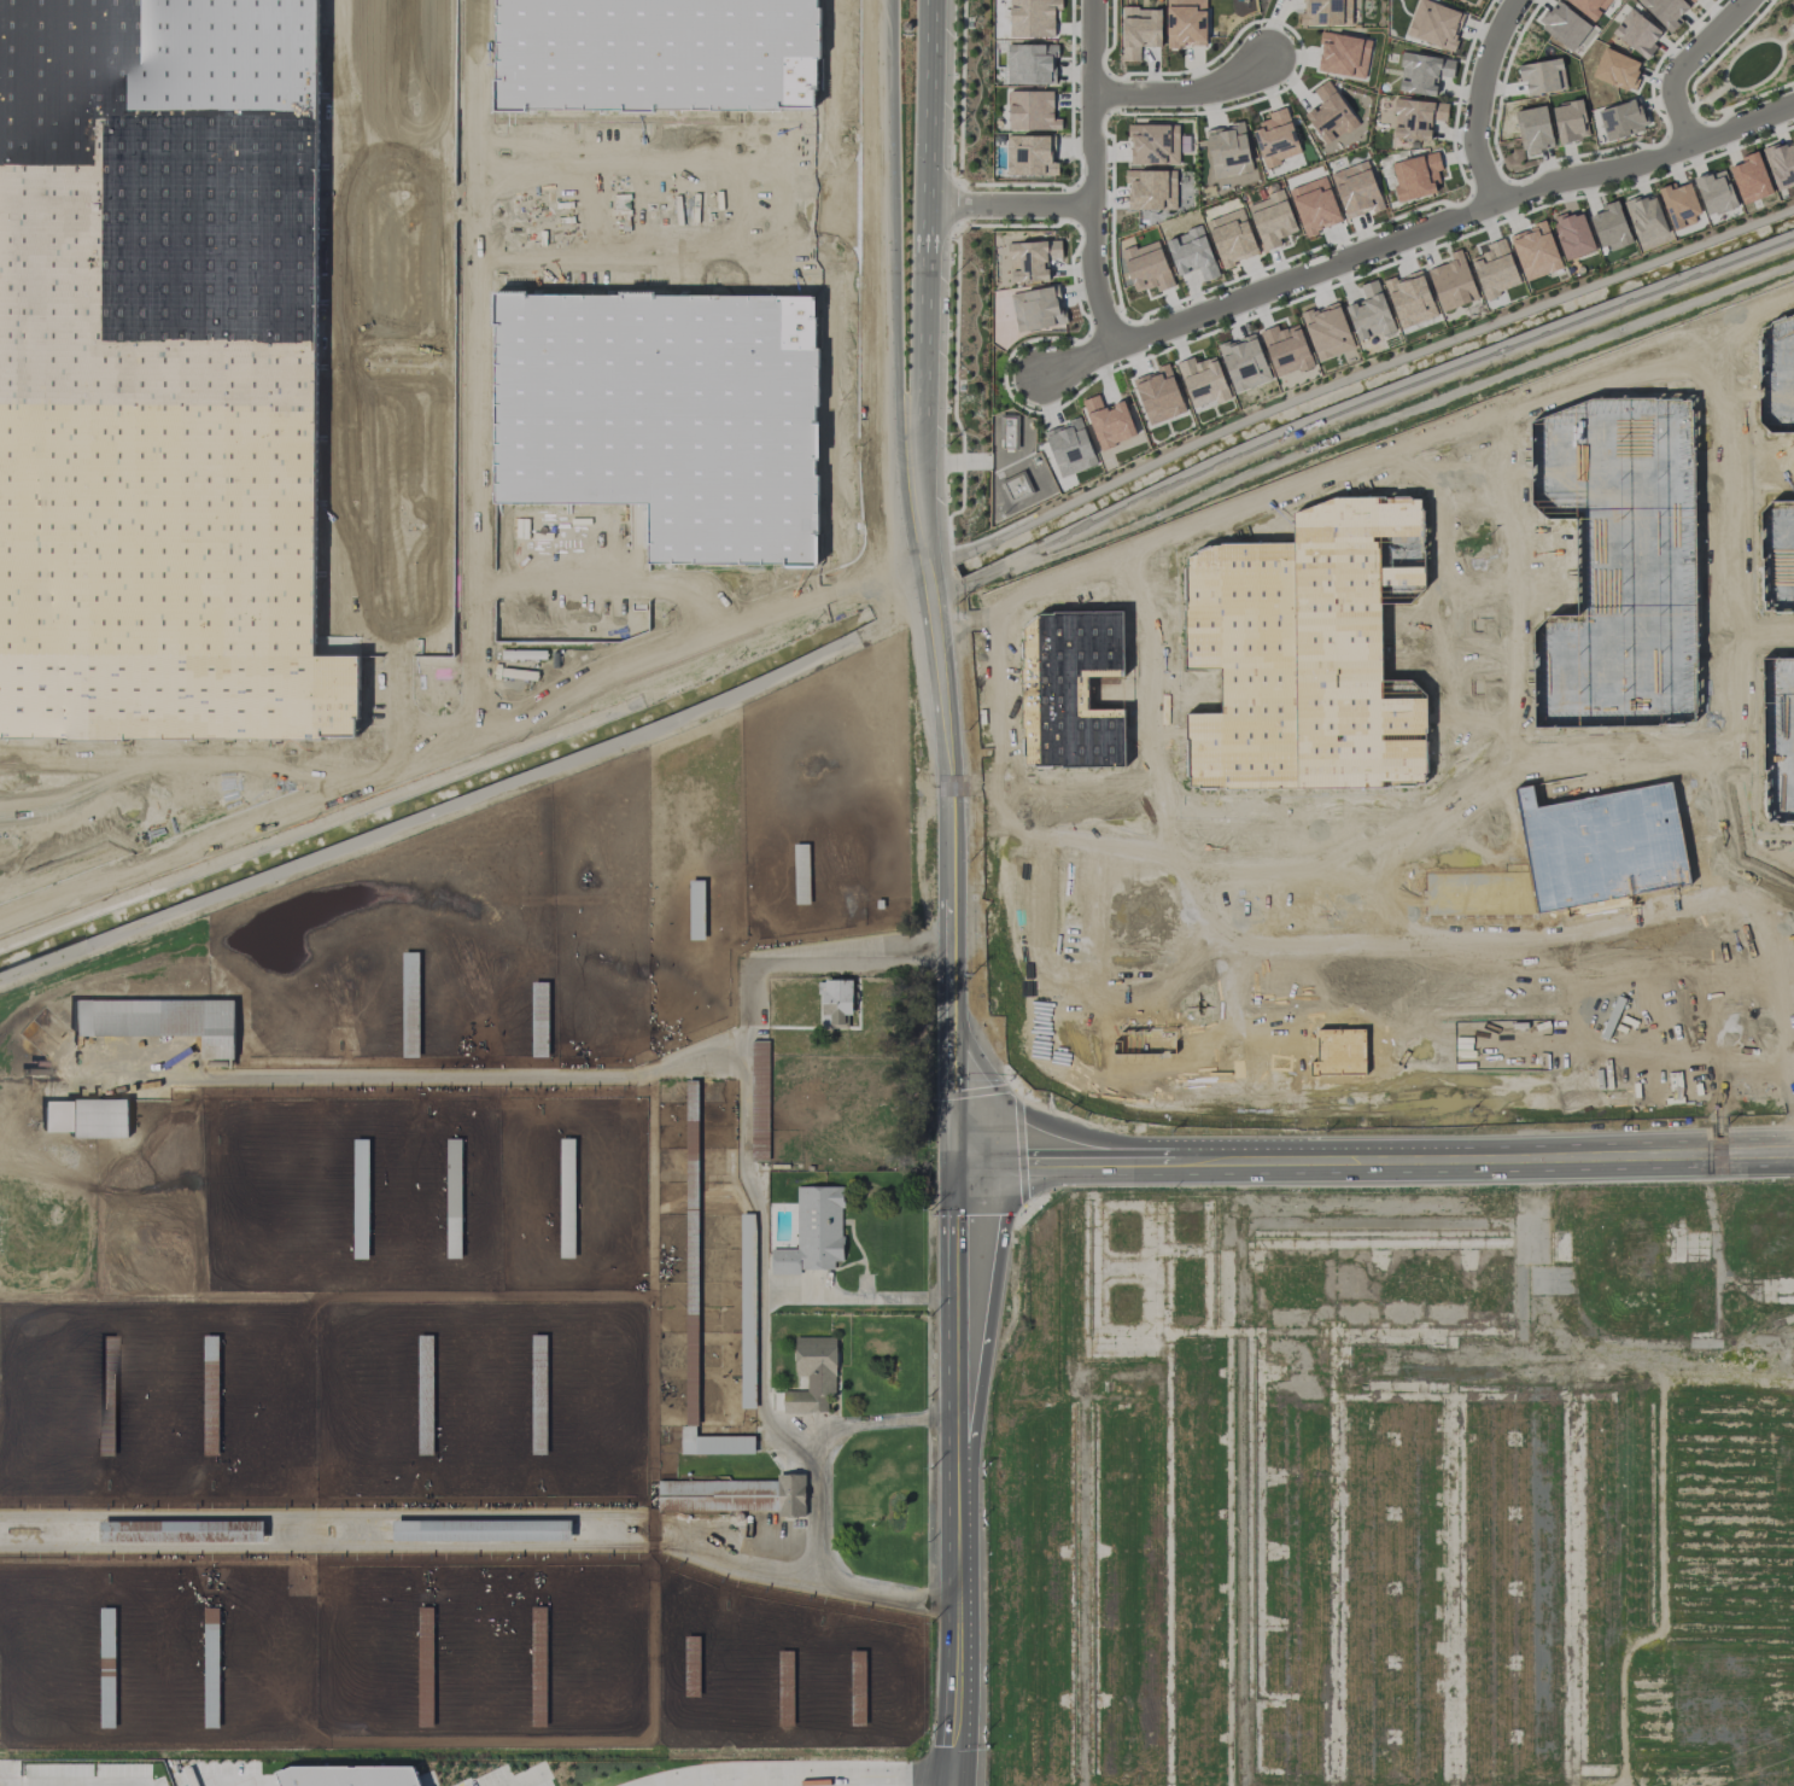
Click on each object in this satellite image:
building: (1693, 0)
building: (1589, 6)
building: (1665, 10)
building: (1326, 12)
building: (1032, 17)
building: (1186, 23)
building: (1433, 24)
building: (1564, 24)
building: (1139, 30)
building: (1636, 33)
road: (1787, 39)
building: (794, 46)
building: (1343, 54)
road: (1683, 62)
building: (1030, 63)
park: (1747, 65)
building: (1617, 69)
building: (1422, 72)
building: (1542, 75)
road: (1726, 83)
road: (1182, 93)
road: (1710, 98)
road: (1478, 99)
road: (1695, 99)
road: (1704, 100)
building: (1032, 110)
building: (1330, 113)
building: (1416, 117)
building: (1621, 119)
building: (1570, 121)
building: (1533, 129)
building: (1275, 138)
building: (1153, 144)
building: (1228, 151)
building: (1029, 154)
building: (1781, 164)
road: (1091, 175)
building: (1415, 175)
building: (1749, 177)
road: (697, 187)
building: (1151, 188)
building: (1356, 188)
building: (1714, 192)
building: (1679, 204)
road: (1007, 205)
building: (1314, 205)
building: (1646, 217)
road: (697, 220)
building: (1272, 220)
building: (1611, 227)
road: (1415, 233)
building: (1572, 234)
building: (1232, 237)
building: (1535, 251)
building: (1192, 252)
building: (1032, 258)
building: (1146, 267)
building: (1495, 269)
road: (925, 276)
building: (1453, 281)
road: (886, 284)
building: (1409, 298)
building: (1036, 309)
road: (1753, 310)
building: (1369, 313)
building: (1327, 329)
building: (1286, 349)
road: (1712, 352)
building: (1244, 362)
road: (469, 364)
building: (152, 374)
road: (393, 379)
building: (1203, 380)
building: (1158, 395)
road: (1360, 404)
building: (1109, 421)
building: (1009, 431)
building: (1069, 448)
road: (1316, 472)
building: (1016, 489)
road: (1449, 605)
road: (1752, 621)
road: (1149, 672)
road: (462, 733)
road: (183, 770)
road: (949, 793)
road: (1338, 812)
road: (71, 816)
road: (129, 822)
road: (1729, 835)
road: (1771, 839)
road: (1713, 840)
road: (1471, 845)
road: (14, 860)
road: (1086, 863)
road: (1104, 863)
road: (1128, 863)
road: (1086, 879)
road: (1104, 879)
road: (1128, 879)
road: (1780, 879)
road: (1140, 882)
road: (1079, 886)
road: (1085, 898)
road: (1104, 898)
road: (1128, 898)
road: (1193, 905)
road: (1104, 918)
road: (1128, 918)
road: (1086, 920)
road: (1086, 933)
road: (1104, 933)
road: (1128, 933)
road: (1191, 952)
road: (1691, 973)
road: (1390, 977)
road: (1638, 979)
road: (1593, 984)
road: (1786, 984)
road: (1286, 997)
building: (836, 1000)
building: (410, 1014)
building: (159, 1021)
building: (1144, 1040)
road: (1550, 1040)
road: (1254, 1056)
road: (1104, 1060)
building: (759, 1095)
road: (952, 1099)
building: (86, 1117)
road: (1012, 1117)
road: (1161, 1145)
road: (472, 1150)
road: (1226, 1154)
road: (1520, 1158)
road: (1100, 1162)
traffic signals: (954, 1165)
road: (466, 1187)
building: (813, 1232)
building: (748, 1279)
road: (765, 1297)
building: (812, 1373)
building: (748, 1395)
building: (538, 1396)
building: (714, 1443)
road: (954, 1475)
building: (735, 1494)
road: (819, 1505)
building: (538, 1657)
traffic signals: (949, 1768)
road: (797, 1769)
building: (345, 1773)
road: (515, 1775)
road: (70, 1782)
road: (200, 1785)

